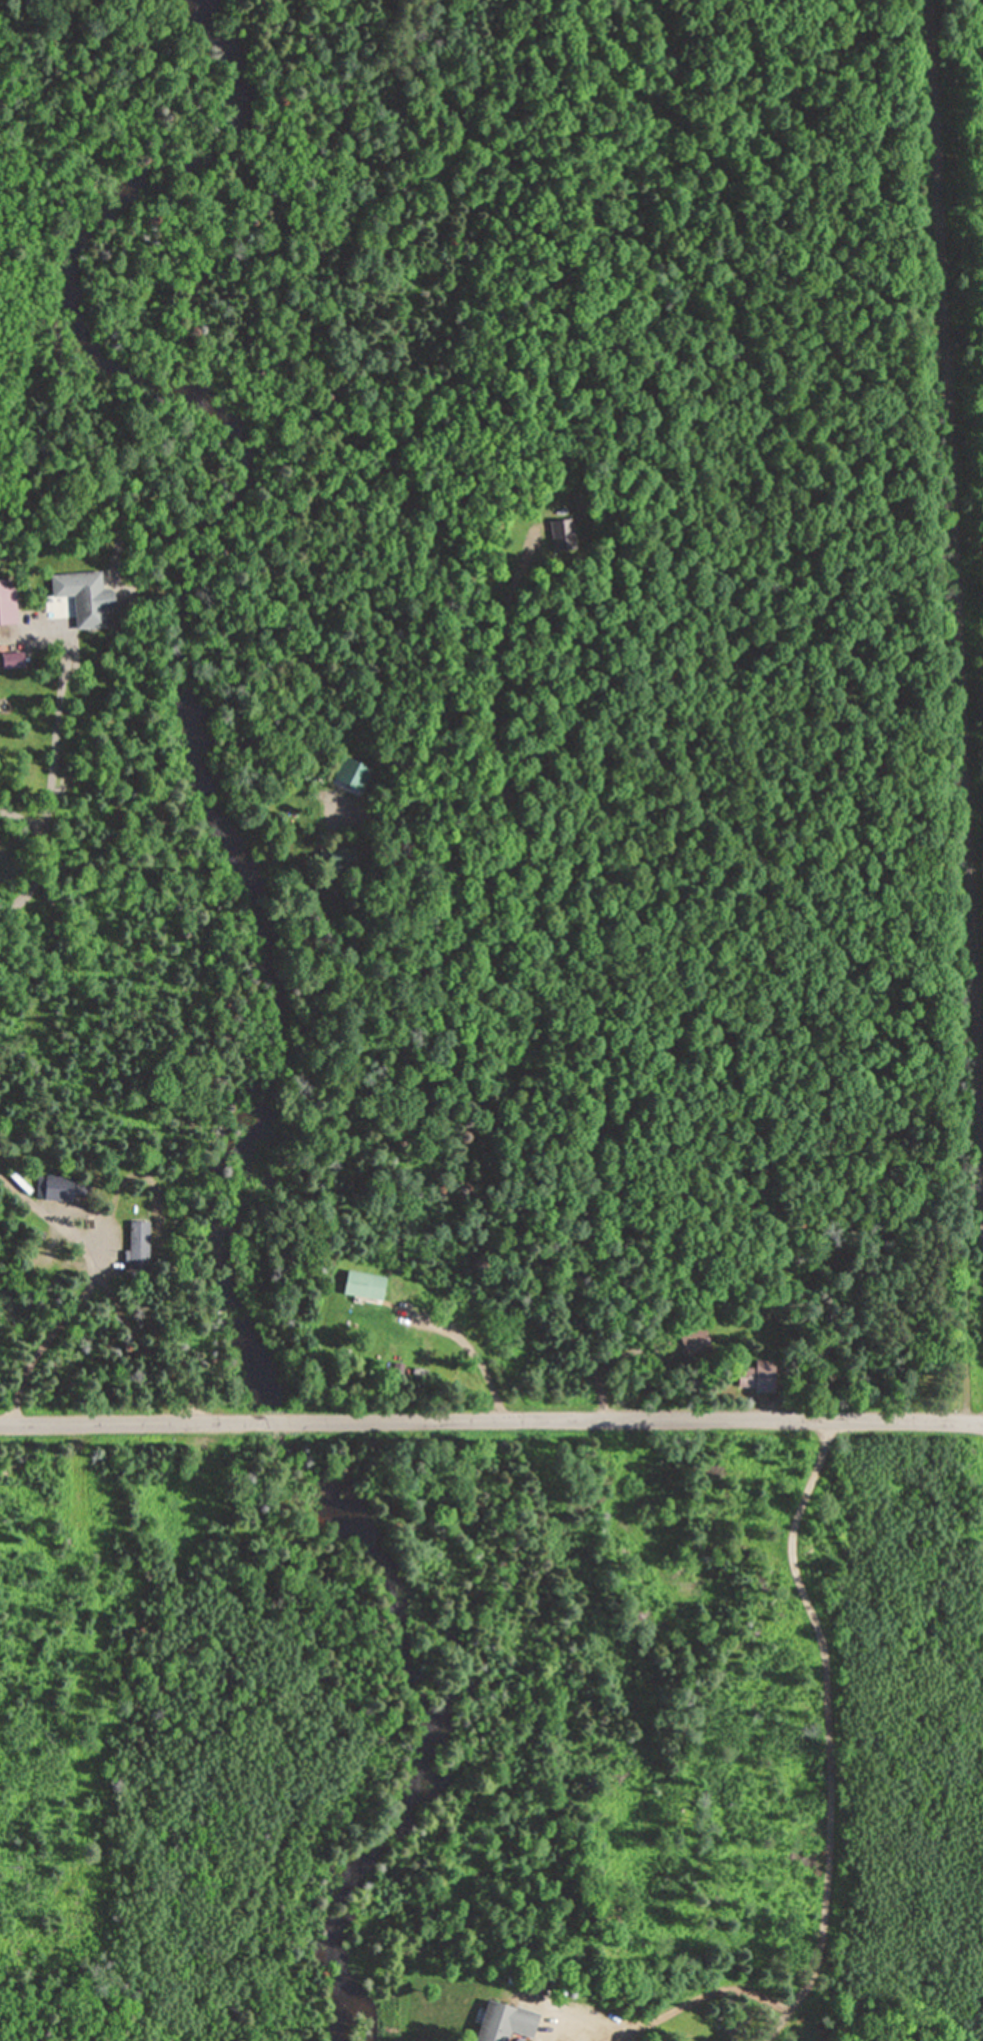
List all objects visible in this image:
building: (561, 533)
building: (83, 595)
building: (7, 601)
river: (177, 608)
road: (953, 625)
road: (51, 789)
road: (567, 983)
building: (56, 1185)
building: (137, 1236)
building: (364, 1282)
road: (83, 1286)
road: (473, 1353)
building: (759, 1379)
road: (650, 1418)
road: (284, 1422)
road: (126, 1423)
river: (421, 1700)
road: (822, 1733)
road: (655, 2018)
building: (603, 2028)

